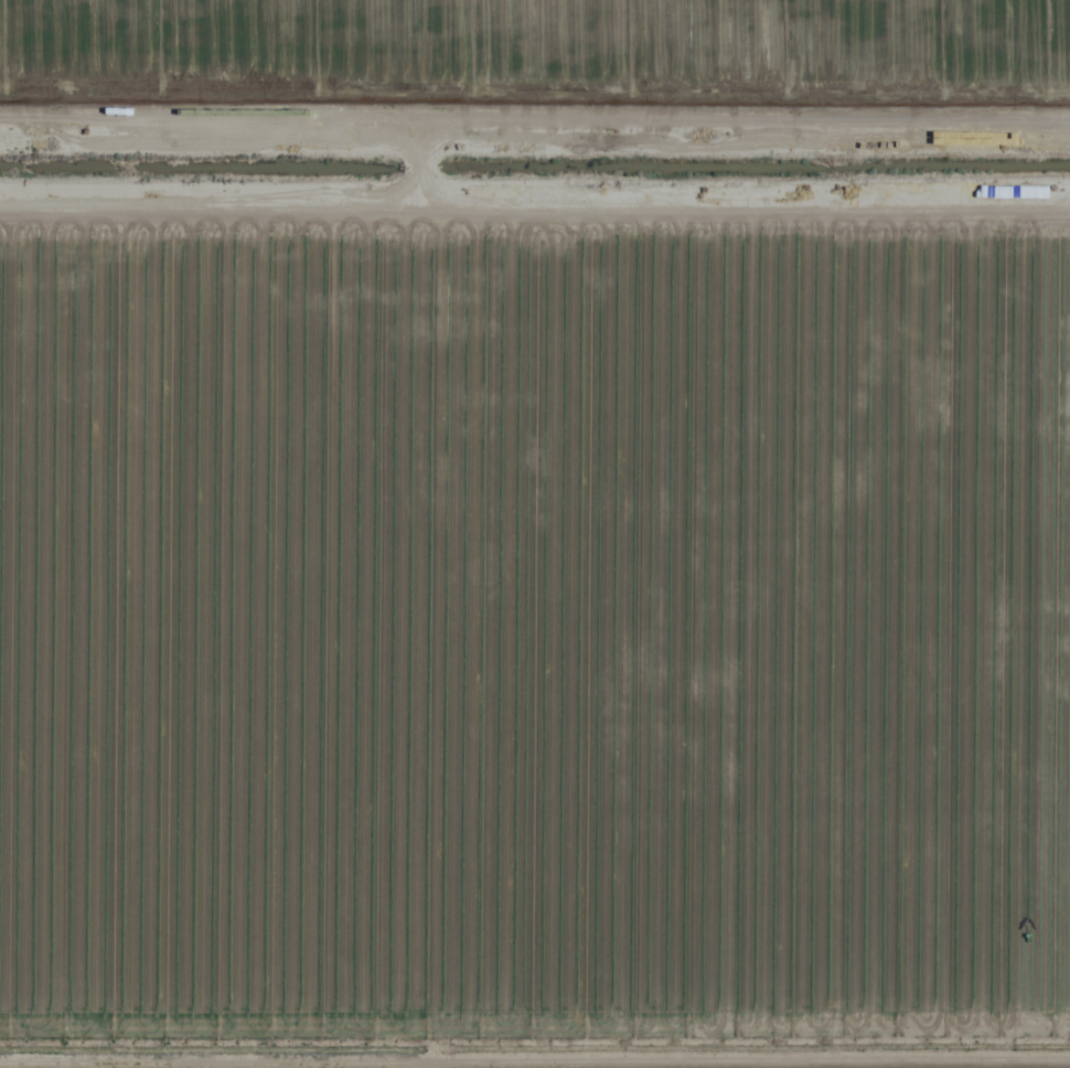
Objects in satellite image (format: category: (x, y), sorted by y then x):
building: (1051, 146)

